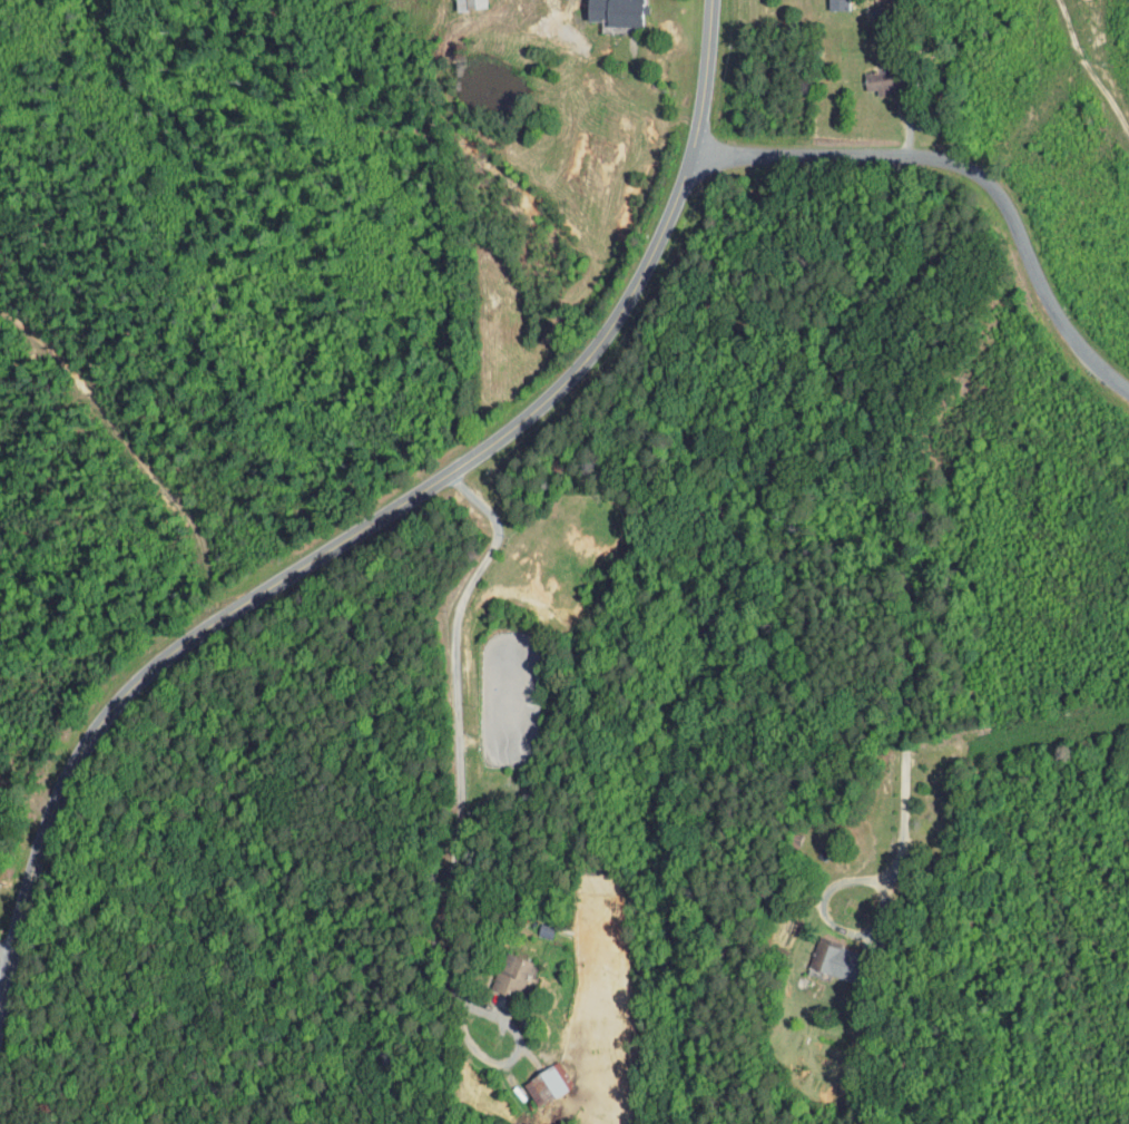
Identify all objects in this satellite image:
building: (454, 1)
building: (823, 1)
building: (600, 9)
building: (864, 76)
road: (978, 169)
road: (380, 515)
road: (907, 521)
road: (461, 815)
building: (819, 952)
road: (4, 954)
building: (500, 969)
building: (532, 1077)

